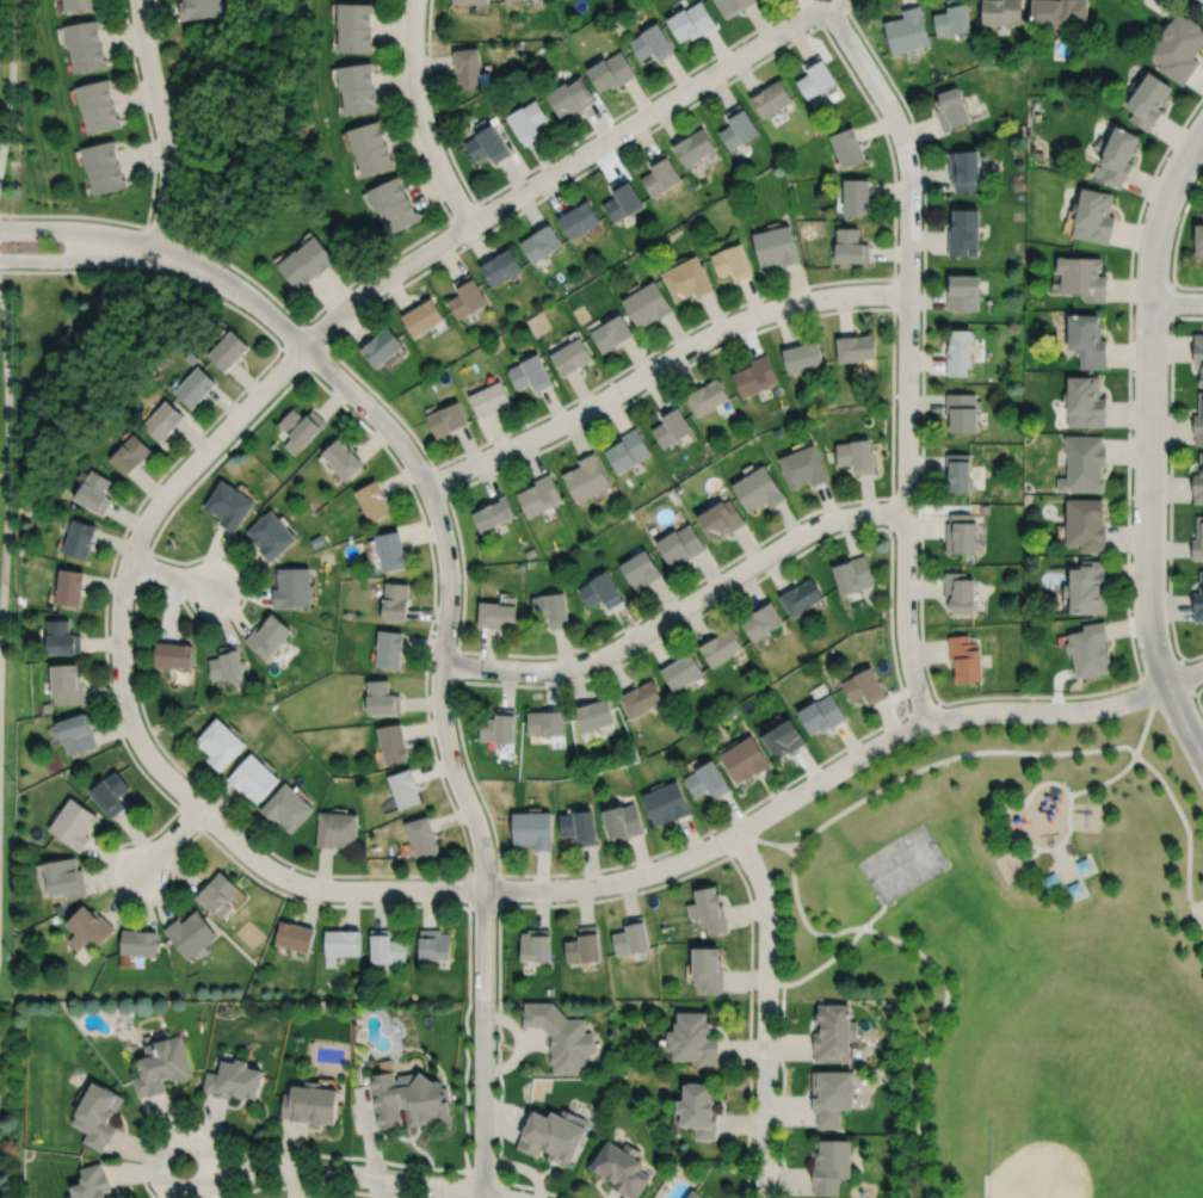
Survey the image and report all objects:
building: (511, 0)
street lamp: (403, 1)
building: (471, 1)
road: (1196, 2)
building: (81, 5)
building: (732, 6)
building: (199, 8)
building: (1001, 12)
building: (1059, 13)
building: (354, 16)
road: (832, 16)
building: (954, 19)
building: (691, 23)
street lamp: (812, 26)
building: (907, 31)
road: (159, 32)
building: (84, 36)
building: (356, 41)
building: (650, 45)
building: (1178, 49)
building: (91, 60)
building: (470, 69)
building: (612, 73)
building: (356, 78)
road: (11, 79)
building: (816, 79)
building: (95, 95)
building: (573, 95)
building: (771, 99)
street lamp: (692, 100)
street lamp: (870, 100)
building: (1150, 101)
street lamp: (1202, 101)
building: (360, 103)
building: (951, 107)
road: (421, 116)
street lamp: (434, 117)
building: (528, 117)
building: (104, 119)
road: (162, 124)
street lamp: (152, 125)
building: (738, 125)
building: (366, 134)
building: (488, 141)
building: (693, 143)
building: (849, 144)
building: (1119, 154)
building: (376, 155)
building: (101, 156)
road: (548, 158)
road: (562, 166)
building: (966, 167)
street lamp: (575, 173)
building: (660, 173)
building: (109, 180)
road: (152, 185)
road: (894, 185)
building: (388, 190)
building: (857, 194)
building: (624, 196)
building: (400, 211)
road: (463, 211)
building: (1096, 214)
building: (580, 216)
street lamp: (20, 218)
street lamp: (897, 218)
building: (964, 229)
road: (78, 230)
building: (1201, 237)
road: (1176, 239)
building: (542, 240)
street lamp: (459, 243)
building: (776, 243)
building: (851, 245)
building: (973, 251)
building: (316, 252)
road: (393, 254)
road: (76, 258)
building: (733, 259)
building: (502, 264)
street lamp: (128, 266)
building: (297, 266)
street lamp: (19, 267)
building: (1085, 276)
building: (687, 277)
street lamp: (1170, 279)
road: (234, 289)
building: (964, 290)
road: (894, 294)
building: (468, 295)
road: (1171, 297)
building: (648, 302)
road: (1177, 302)
street lamp: (236, 304)
street lamp: (887, 305)
building: (424, 315)
road: (303, 322)
street lamp: (764, 325)
building: (613, 331)
building: (66, 336)
street lamp: (329, 338)
building: (1090, 339)
building: (382, 344)
road: (280, 346)
road: (283, 346)
building: (856, 346)
building: (227, 347)
building: (1199, 350)
building: (960, 351)
road: (908, 353)
building: (573, 354)
building: (802, 354)
road: (660, 364)
building: (531, 371)
building: (755, 375)
building: (195, 384)
building: (707, 395)
building: (492, 397)
street lamp: (896, 397)
street lamp: (625, 399)
building: (1087, 401)
building: (963, 410)
building: (448, 418)
building: (162, 419)
building: (1199, 421)
building: (301, 424)
building: (672, 424)
street lamp: (1133, 432)
street lamp: (236, 437)
road: (1148, 444)
building: (629, 449)
building: (129, 452)
building: (857, 455)
building: (344, 457)
road: (7, 461)
building: (1085, 462)
street lamp: (500, 464)
building: (803, 465)
building: (960, 471)
building: (587, 476)
road: (439, 480)
road: (893, 480)
road: (1170, 483)
building: (1198, 484)
building: (758, 488)
building: (94, 490)
building: (541, 494)
building: (374, 500)
street lamp: (445, 501)
building: (228, 504)
street lamp: (840, 505)
building: (986, 508)
building: (494, 512)
road: (893, 515)
building: (720, 518)
building: (1087, 523)
building: (962, 532)
building: (271, 533)
street lamp: (894, 536)
building: (82, 539)
building: (1198, 541)
street lamp: (149, 543)
building: (681, 544)
building: (391, 549)
street lamp: (1131, 554)
street lamp: (223, 557)
road: (142, 566)
building: (642, 568)
street lamp: (721, 572)
road: (168, 574)
building: (853, 574)
building: (292, 586)
building: (1088, 586)
building: (72, 587)
building: (601, 589)
building: (961, 592)
building: (801, 597)
building: (396, 600)
building: (1198, 605)
building: (553, 607)
road: (678, 609)
building: (498, 613)
building: (761, 620)
building: (269, 635)
building: (63, 638)
street lamp: (1171, 641)
street lamp: (455, 642)
building: (721, 647)
building: (390, 648)
street lamp: (640, 648)
building: (1091, 650)
building: (173, 655)
building: (967, 659)
building: (227, 662)
road: (455, 665)
road: (1164, 671)
building: (683, 672)
street lamp: (524, 681)
building: (68, 684)
building: (865, 686)
road: (1186, 693)
road: (1195, 693)
road: (976, 697)
building: (382, 698)
building: (642, 698)
road: (1197, 698)
street lamp: (1023, 699)
street lamp: (115, 703)
road: (924, 709)
street lamp: (909, 710)
road: (128, 711)
road: (905, 711)
building: (822, 714)
building: (596, 715)
building: (547, 723)
building: (500, 727)
building: (78, 735)
building: (784, 739)
building: (393, 742)
building: (220, 743)
road: (448, 748)
road: (1135, 754)
building: (745, 759)
street lamp: (823, 765)
road: (838, 768)
building: (253, 778)
building: (708, 780)
building: (405, 788)
road: (1034, 788)
building: (112, 793)
street lamp: (451, 795)
building: (668, 803)
building: (288, 807)
road: (835, 814)
road: (190, 819)
building: (624, 821)
building: (75, 825)
building: (581, 826)
building: (337, 829)
building: (533, 829)
street lamp: (211, 834)
building: (422, 836)
road: (171, 839)
road: (764, 840)
road: (786, 848)
street lamp: (723, 854)
road: (1062, 862)
park: (901, 863)
building: (1084, 863)
road: (465, 869)
road: (467, 871)
building: (1051, 877)
road: (1071, 878)
building: (67, 879)
street lamp: (168, 879)
building: (1075, 887)
building: (220, 894)
road: (618, 894)
street lamp: (601, 895)
road: (1078, 895)
road: (164, 896)
street lamp: (325, 901)
street lamp: (463, 902)
road: (469, 903)
road: (467, 904)
building: (57, 907)
building: (708, 907)
parking lot: (1198, 907)
road: (1198, 912)
building: (55, 919)
building: (90, 928)
building: (191, 933)
building: (630, 934)
building: (295, 935)
street lamp: (755, 941)
building: (341, 943)
building: (434, 943)
building: (537, 944)
building: (140, 945)
building: (582, 945)
building: (387, 946)
park: (1016, 950)
road: (838, 952)
building: (708, 967)
building: (549, 990)
road: (766, 1012)
building: (833, 1031)
building: (562, 1035)
building: (691, 1037)
building: (132, 1046)
building: (161, 1064)
building: (234, 1079)
street lamp: (470, 1081)
road: (782, 1091)
building: (832, 1093)
building: (411, 1098)
building: (310, 1101)
building: (697, 1107)
building: (98, 1114)
street lamp: (192, 1126)
building: (556, 1134)
street lamp: (752, 1155)
park: (1053, 1155)
street lamp: (346, 1162)
building: (831, 1163)
building: (621, 1167)
road: (253, 1168)
road: (465, 1169)
road: (477, 1175)
road: (500, 1181)
building: (91, 1182)
road: (985, 1186)
road: (311, 1187)
building: (693, 1194)
road: (492, 1196)
building: (107, 1197)

